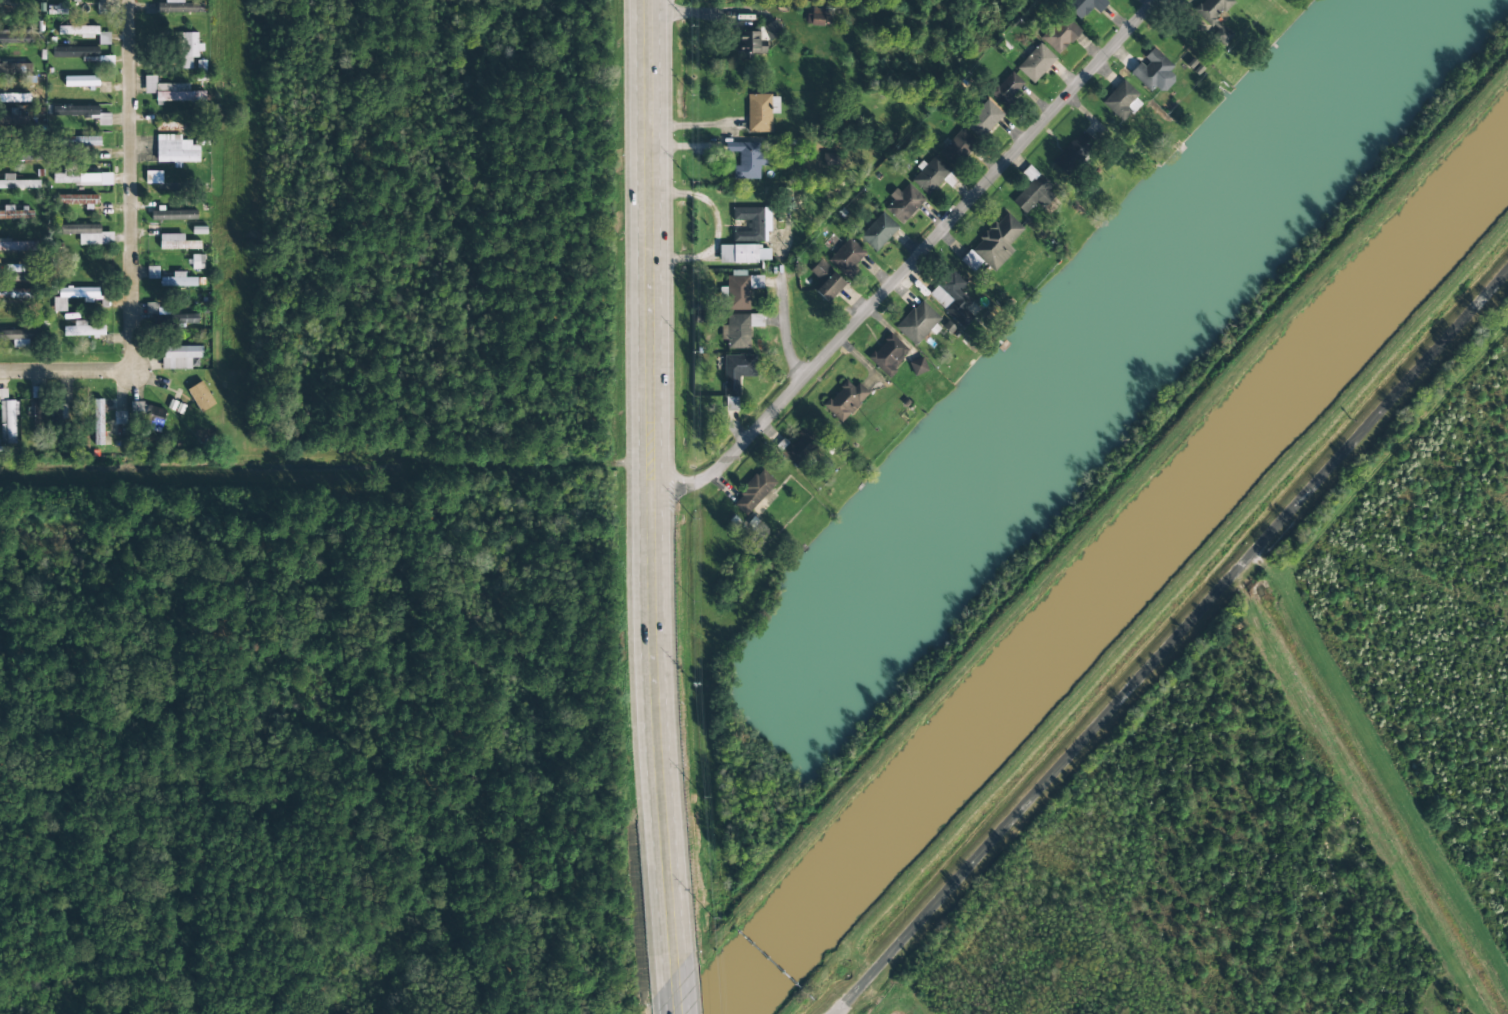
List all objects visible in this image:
building: (1082, 6)
building: (179, 7)
building: (815, 17)
building: (1213, 18)
building: (769, 31)
building: (82, 32)
building: (1058, 34)
building: (21, 36)
building: (35, 36)
building: (749, 43)
building: (184, 51)
building: (81, 54)
building: (1034, 63)
building: (15, 68)
building: (1149, 69)
building: (79, 81)
building: (1005, 89)
building: (170, 91)
building: (10, 97)
building: (1119, 101)
building: (79, 112)
building: (757, 114)
building: (981, 119)
building: (14, 120)
building: (174, 127)
building: (75, 141)
building: (176, 148)
building: (956, 148)
building: (1072, 153)
building: (20, 155)
building: (829, 159)
building: (748, 160)
building: (930, 176)
building: (79, 178)
building: (153, 178)
building: (17, 183)
building: (1032, 192)
road: (131, 194)
building: (75, 200)
building: (903, 203)
building: (16, 214)
building: (176, 216)
building: (877, 232)
building: (85, 234)
building: (744, 237)
building: (175, 243)
building: (992, 244)
building: (18, 246)
building: (845, 257)
building: (197, 263)
road: (909, 264)
building: (19, 276)
building: (172, 278)
building: (825, 282)
building: (740, 291)
building: (20, 294)
building: (73, 297)
building: (951, 297)
building: (151, 308)
building: (186, 319)
building: (916, 323)
road: (780, 324)
building: (83, 330)
building: (740, 330)
building: (18, 336)
building: (887, 352)
building: (180, 357)
building: (918, 366)
road: (54, 371)
building: (736, 372)
building: (184, 393)
building: (200, 396)
building: (844, 400)
building: (731, 404)
building: (137, 408)
building: (119, 411)
building: (38, 414)
building: (7, 419)
building: (59, 419)
building: (153, 419)
building: (98, 422)
building: (799, 448)
building: (753, 493)
road: (642, 494)
road: (1173, 643)
road: (676, 1001)

